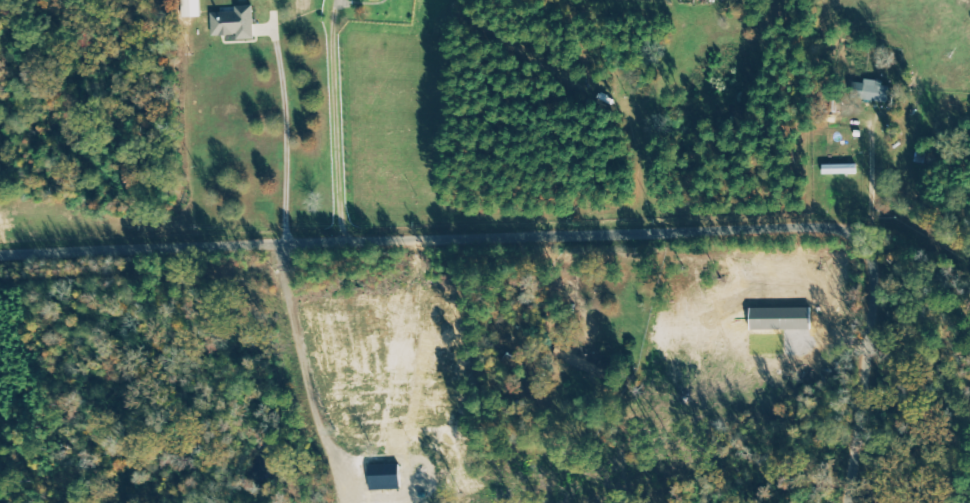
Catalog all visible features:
building: (231, 22)
building: (869, 90)
road: (335, 121)
road: (287, 136)
building: (837, 168)
road: (562, 233)

